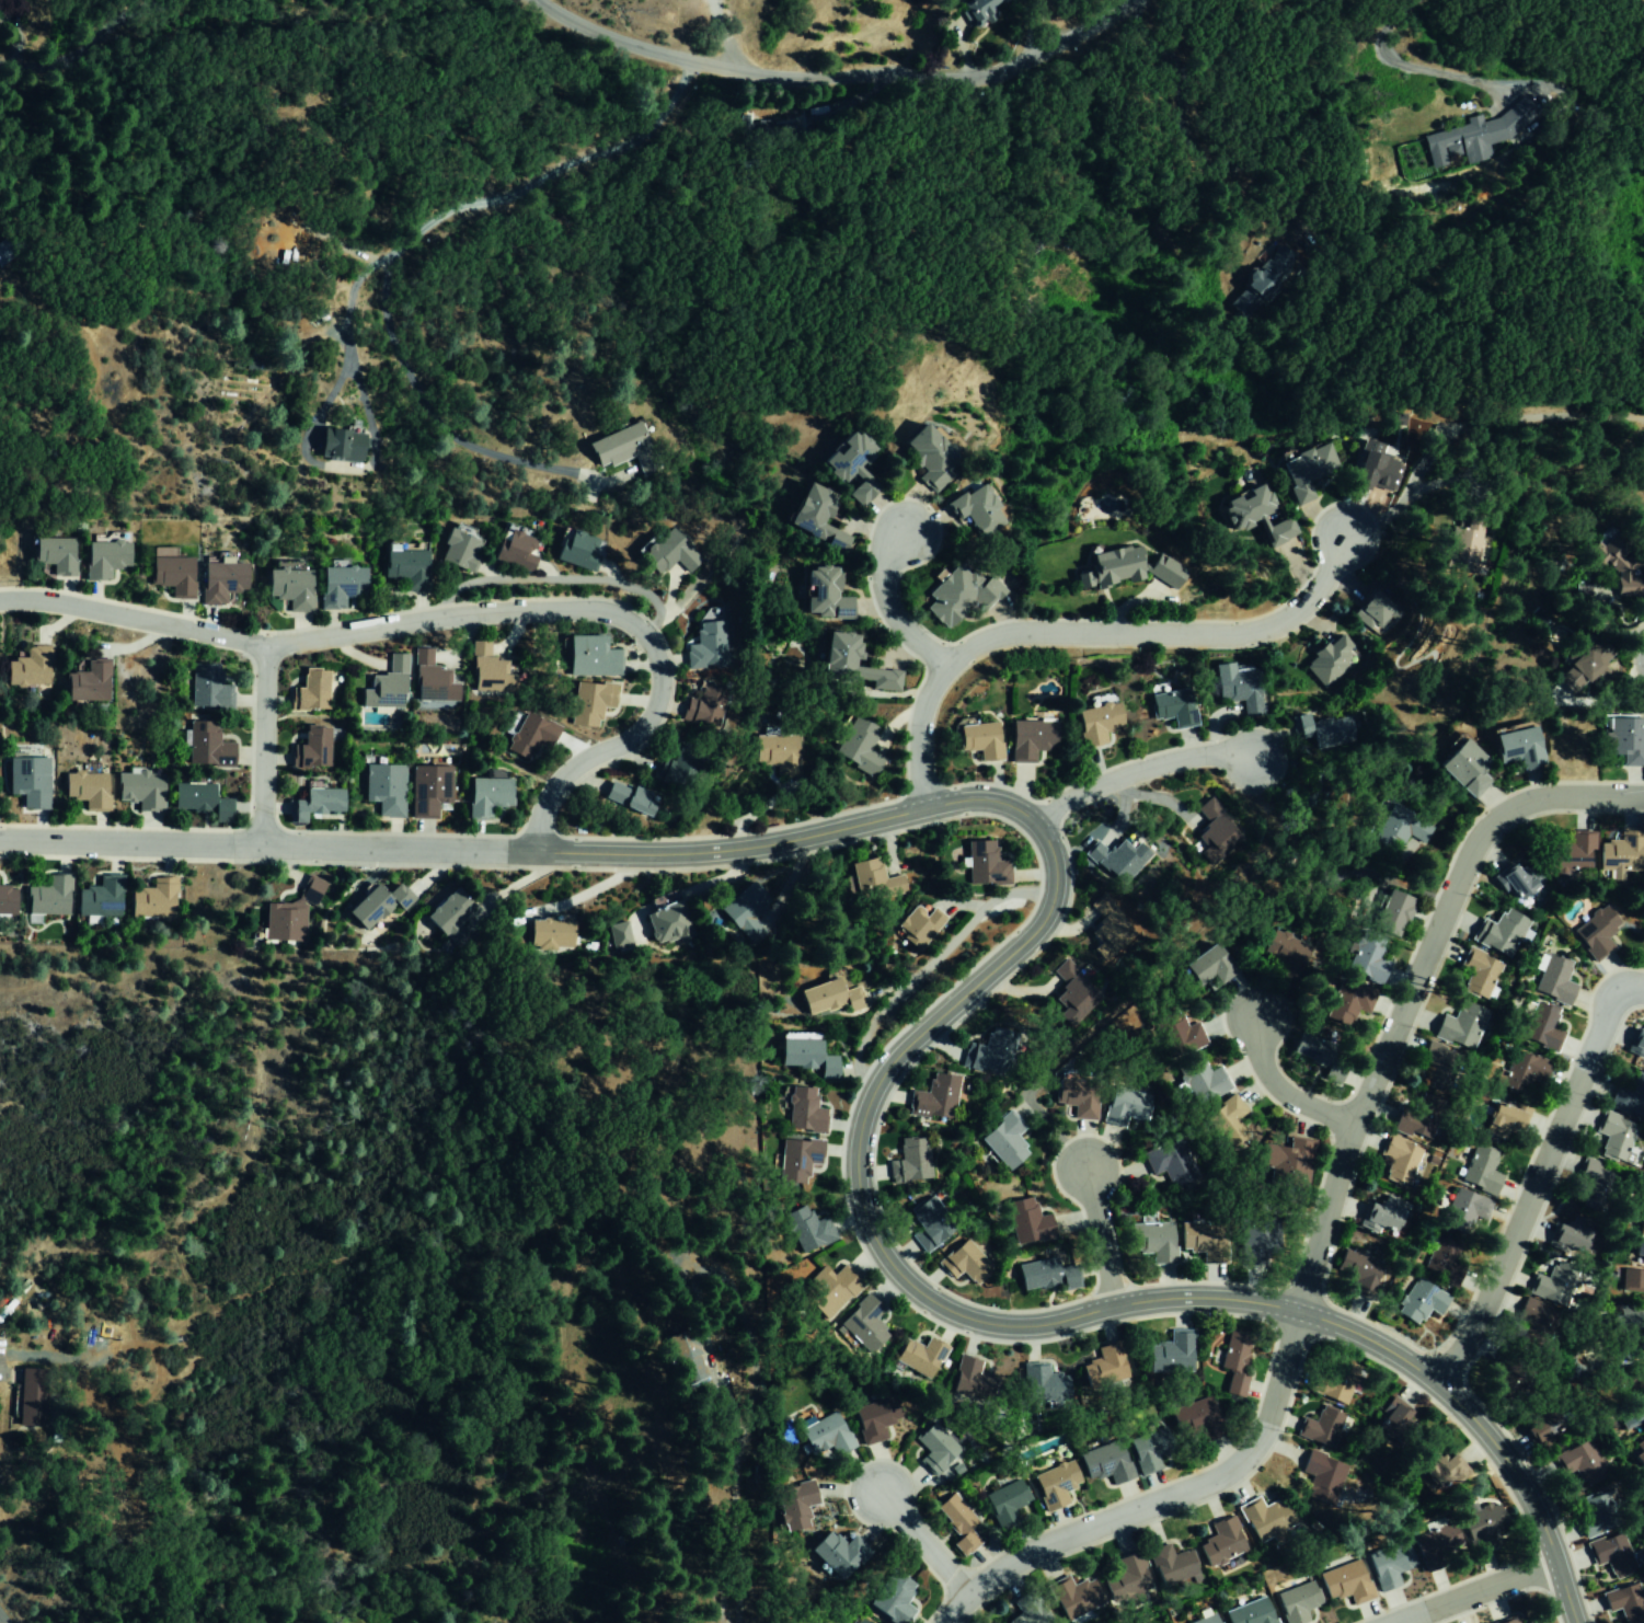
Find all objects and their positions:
building: (980, 7)
road: (83, 47)
road: (842, 72)
building: (1476, 135)
road: (400, 240)
building: (4, 253)
building: (1262, 281)
building: (338, 444)
building: (622, 447)
building: (927, 454)
building: (848, 464)
building: (1303, 469)
building: (1369, 470)
building: (1244, 507)
building: (974, 510)
building: (814, 517)
building: (1277, 531)
building: (1461, 545)
building: (576, 549)
building: (514, 550)
building: (458, 551)
building: (666, 553)
building: (53, 554)
building: (102, 559)
building: (1613, 565)
building: (404, 567)
building: (1105, 568)
building: (1162, 572)
building: (170, 575)
building: (219, 582)
building: (338, 584)
building: (288, 587)
building: (821, 594)
building: (957, 595)
road: (888, 608)
building: (1371, 612)
road: (461, 614)
road: (1089, 632)
building: (705, 645)
building: (589, 656)
building: (1329, 659)
building: (850, 664)
building: (26, 667)
building: (487, 671)
building: (1577, 671)
building: (430, 680)
building: (85, 682)
building: (386, 686)
building: (206, 688)
building: (1238, 689)
building: (309, 691)
building: (588, 702)
building: (704, 705)
building: (1172, 706)
building: (1095, 723)
building: (1321, 729)
building: (528, 736)
building: (1028, 738)
building: (978, 739)
building: (1624, 739)
road: (262, 741)
building: (205, 745)
building: (857, 746)
building: (1517, 747)
building: (310, 749)
building: (775, 752)
building: (678, 768)
building: (1463, 768)
road: (1134, 771)
building: (27, 781)
building: (383, 789)
building: (85, 790)
building: (142, 790)
building: (427, 790)
building: (485, 795)
building: (629, 797)
building: (199, 801)
building: (313, 804)
building: (1396, 828)
building: (1210, 842)
road: (271, 844)
building: (1570, 854)
building: (1619, 855)
building: (1118, 859)
building: (982, 864)
building: (1517, 880)
building: (872, 882)
building: (310, 889)
building: (47, 897)
building: (99, 898)
building: (152, 899)
building: (5, 900)
building: (376, 905)
building: (743, 911)
building: (1390, 911)
building: (448, 918)
building: (283, 922)
building: (666, 924)
building: (917, 924)
building: (1107, 930)
building: (1498, 932)
building: (1594, 932)
building: (547, 933)
building: (616, 935)
building: (1643, 939)
building: (1283, 952)
building: (1365, 958)
building: (1206, 966)
building: (1067, 968)
building: (1476, 971)
building: (1552, 980)
road: (1409, 987)
building: (1073, 995)
building: (829, 997)
building: (1347, 1001)
building: (1460, 1025)
building: (1540, 1027)
building: (1183, 1035)
building: (1637, 1039)
building: (988, 1051)
building: (1319, 1055)
building: (804, 1056)
building: (1436, 1067)
building: (1521, 1071)
building: (1200, 1080)
road: (1278, 1090)
building: (1076, 1096)
building: (1629, 1096)
building: (933, 1097)
building: (1124, 1106)
building: (803, 1110)
building: (1417, 1117)
building: (1503, 1118)
building: (1227, 1121)
building: (1613, 1136)
building: (1003, 1139)
building: (795, 1159)
building: (1398, 1159)
building: (909, 1161)
building: (1169, 1162)
building: (1284, 1166)
building: (1480, 1171)
road: (1536, 1179)
building: (1595, 1181)
road: (855, 1188)
building: (1458, 1211)
building: (1380, 1215)
building: (1026, 1221)
building: (929, 1223)
building: (1641, 1225)
building: (805, 1229)
building: (1568, 1235)
road: (1096, 1239)
building: (1202, 1240)
building: (1151, 1241)
building: (1256, 1241)
building: (1640, 1253)
building: (964, 1263)
building: (1441, 1263)
building: (1357, 1271)
building: (1045, 1275)
building: (1632, 1280)
building: (1553, 1284)
building: (826, 1291)
building: (1418, 1301)
building: (1643, 1313)
building: (1622, 1317)
building: (1643, 1322)
building: (1536, 1324)
building: (862, 1325)
building: (1625, 1347)
building: (1170, 1354)
building: (919, 1357)
building: (1233, 1362)
building: (1102, 1367)
building: (1505, 1379)
building: (1628, 1379)
building: (1333, 1380)
building: (972, 1381)
building: (1042, 1384)
building: (30, 1395)
building: (1631, 1413)
building: (874, 1419)
building: (1195, 1419)
building: (1541, 1426)
building: (1396, 1427)
building: (1320, 1428)
building: (824, 1435)
building: (934, 1449)
building: (1147, 1450)
building: (1639, 1451)
building: (1104, 1462)
building: (1579, 1462)
building: (1440, 1473)
building: (1318, 1474)
building: (1643, 1476)
building: (1054, 1484)
road: (1158, 1500)
building: (1004, 1501)
building: (794, 1506)
building: (1595, 1516)
building: (1264, 1518)
building: (957, 1522)
building: (1479, 1526)
building: (1220, 1542)
road: (922, 1544)
building: (1430, 1550)
building: (836, 1554)
building: (1610, 1554)
building: (1171, 1565)
building: (1388, 1565)
building: (1128, 1578)
building: (1344, 1584)
road: (1465, 1591)
building: (1073, 1597)
building: (890, 1598)
building: (1296, 1602)
building: (1623, 1602)
building: (1027, 1610)
building: (1249, 1612)
building: (1207, 1620)
building: (859, 1621)
building: (1507, 1621)
road: (0, 1622)
building: (1532, 1622)

